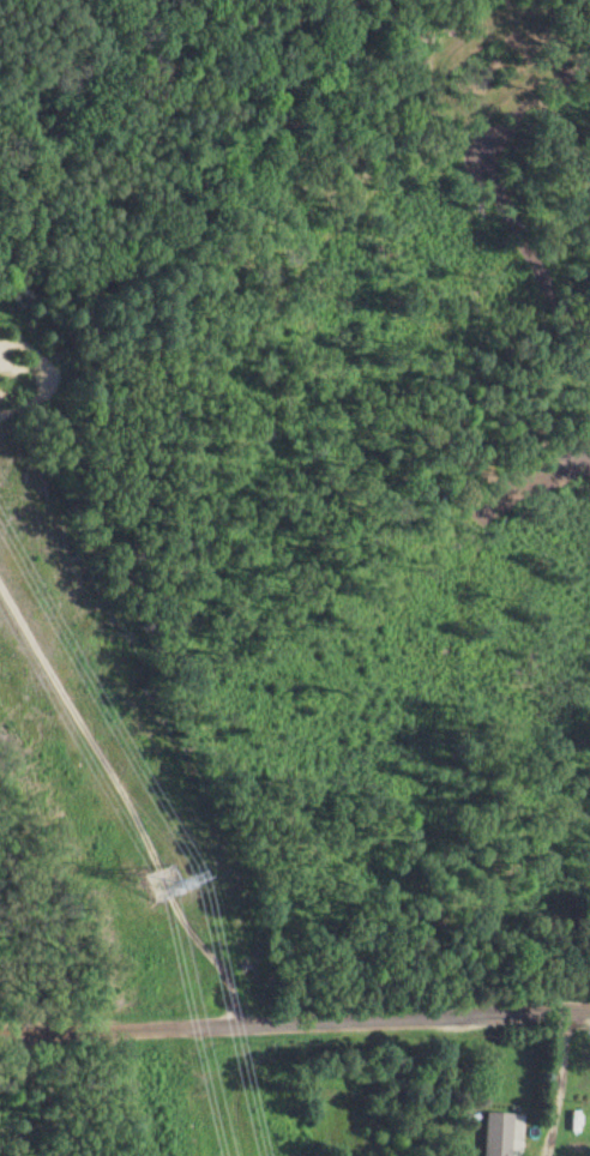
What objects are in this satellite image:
power tower: (159, 886)
road: (401, 1017)
road: (107, 1029)
road: (555, 1083)

